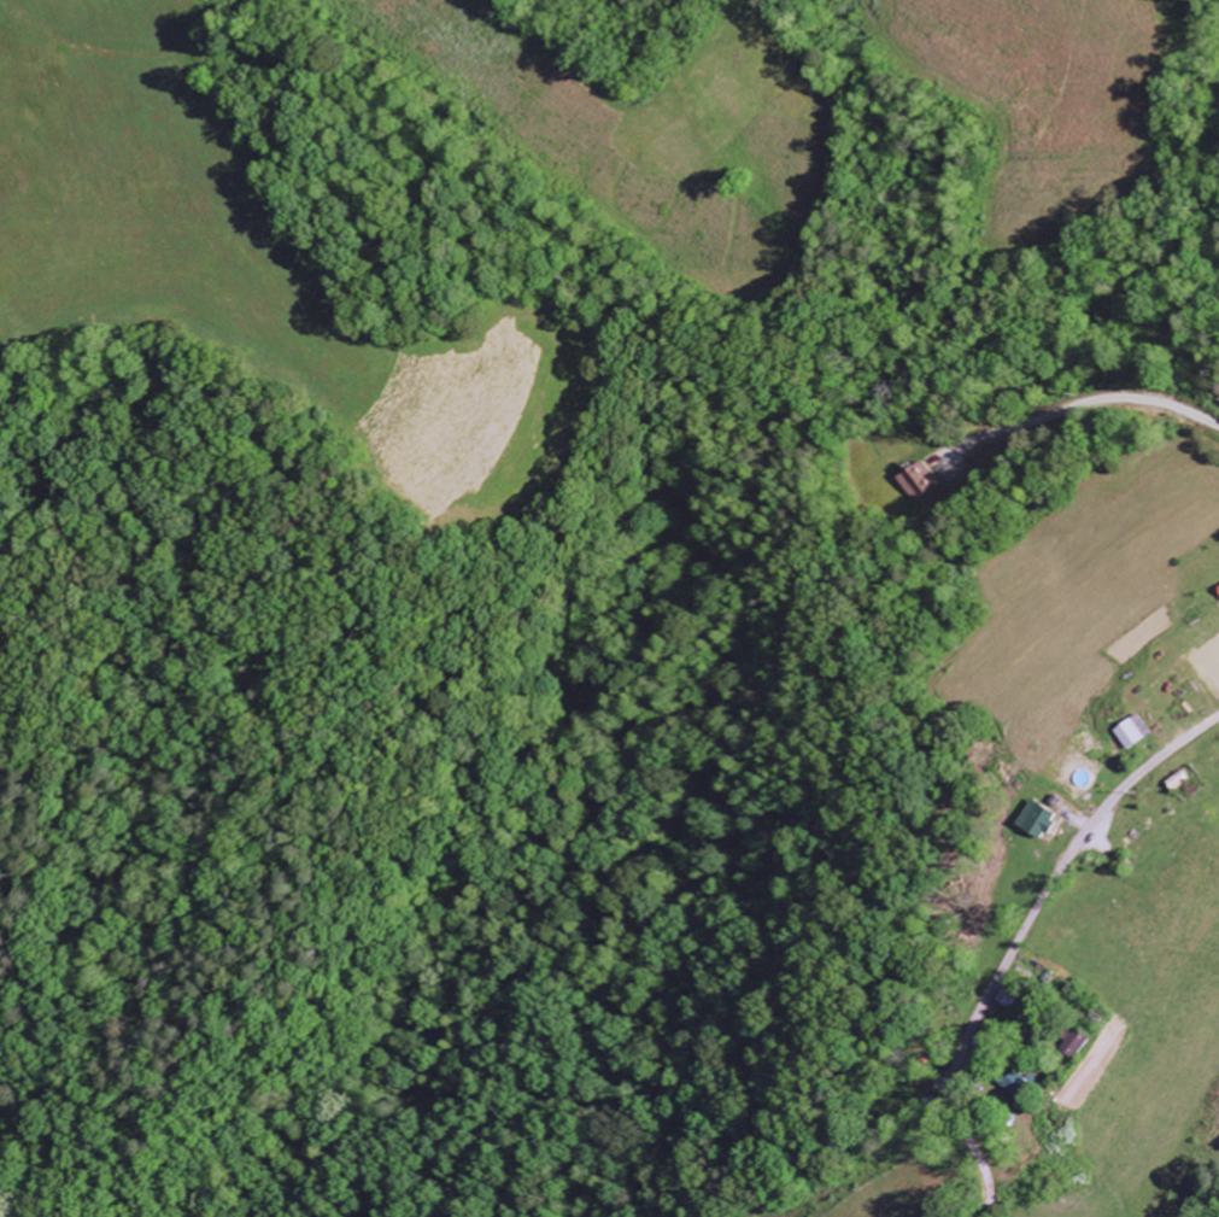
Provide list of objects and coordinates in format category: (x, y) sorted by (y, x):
building: (912, 481)
building: (1131, 733)
building: (1035, 821)
road: (1056, 880)

